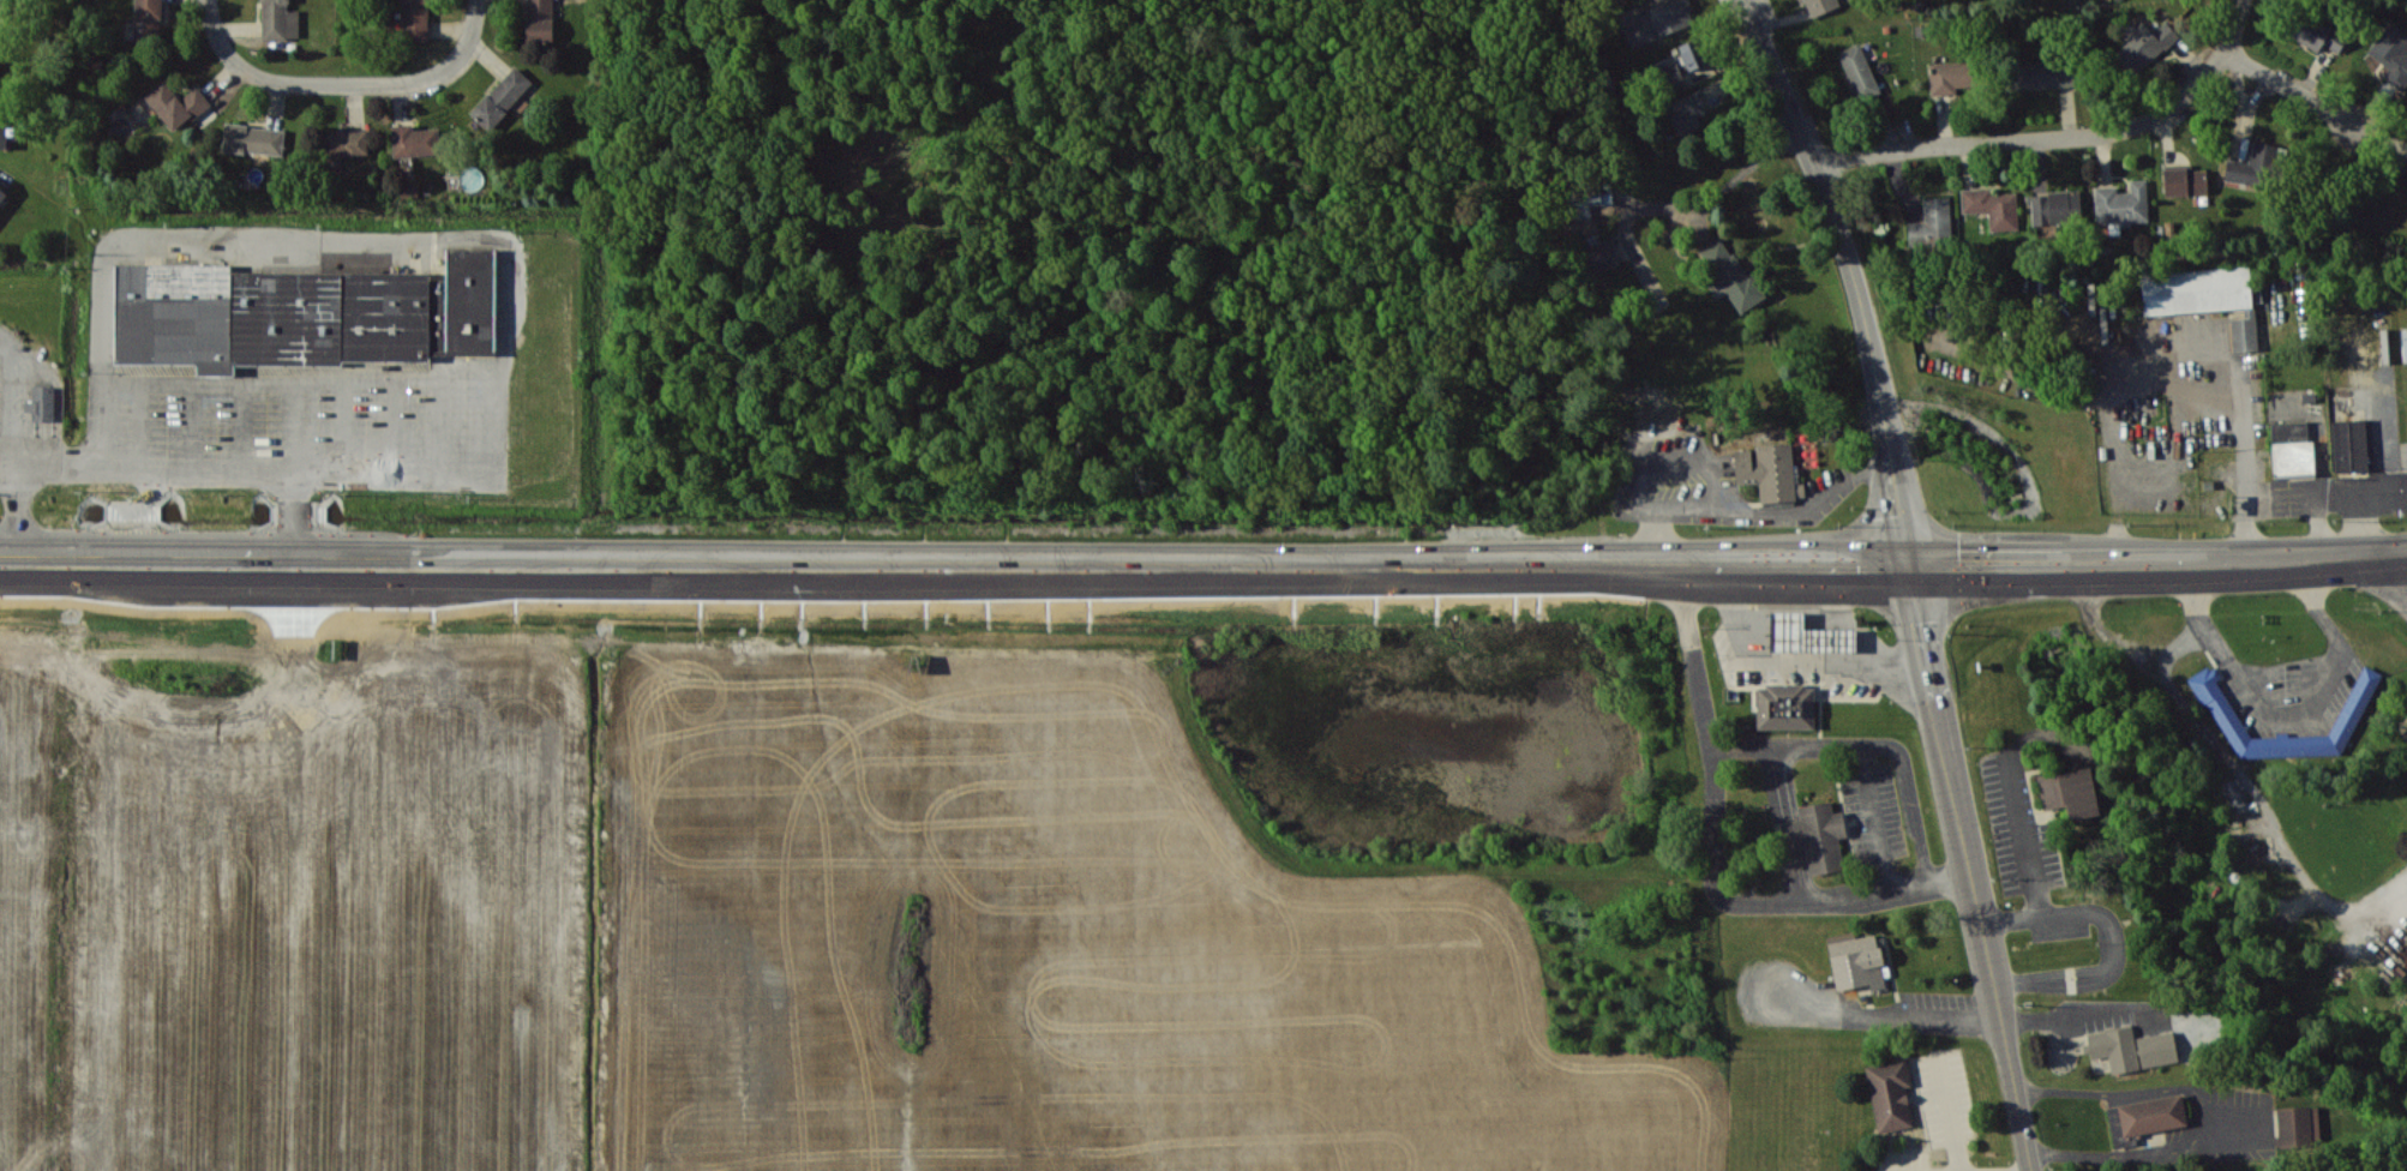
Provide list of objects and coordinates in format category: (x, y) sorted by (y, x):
building: (1820, 6)
road: (476, 14)
building: (149, 19)
building: (416, 19)
building: (280, 20)
building: (540, 20)
building: (1658, 22)
road: (212, 23)
road: (2239, 29)
building: (2318, 34)
building: (2144, 46)
building: (1694, 53)
building: (2393, 54)
building: (1860, 72)
building: (2043, 74)
building: (1951, 76)
road: (354, 85)
road: (2293, 90)
building: (502, 97)
building: (176, 103)
building: (1687, 112)
building: (4, 136)
building: (254, 139)
building: (415, 140)
road: (2035, 142)
building: (348, 143)
building: (2255, 166)
building: (2185, 180)
building: (2, 194)
building: (1587, 198)
building: (2123, 204)
road: (1704, 205)
building: (1992, 206)
building: (2055, 208)
building: (1932, 223)
building: (1602, 254)
building: (1730, 274)
road: (1851, 277)
building: (2204, 296)
building: (174, 313)
building: (384, 316)
building: (287, 317)
road: (479, 368)
road: (2178, 373)
building: (44, 400)
building: (2349, 444)
road: (18, 445)
building: (2292, 448)
road: (8, 457)
building: (1770, 473)
road: (155, 514)
road: (294, 516)
road: (1203, 563)
traffic signals: (1913, 569)
road: (2378, 581)
gas station: (1805, 633)
building: (1806, 635)
building: (1785, 705)
road: (2287, 710)
building: (2348, 719)
road: (1779, 782)
building: (2070, 792)
building: (2233, 793)
road: (1874, 822)
road: (1790, 834)
building: (1817, 835)
road: (2025, 839)
road: (1973, 869)
road: (1799, 875)
road: (1949, 877)
road: (1818, 901)
road: (2111, 939)
building: (1857, 961)
road: (2067, 1014)
road: (1898, 1015)
building: (2115, 1049)
building: (2157, 1049)
building: (1890, 1093)
road: (2124, 1094)
building: (2153, 1115)
building: (2297, 1127)
road: (2138, 1154)

